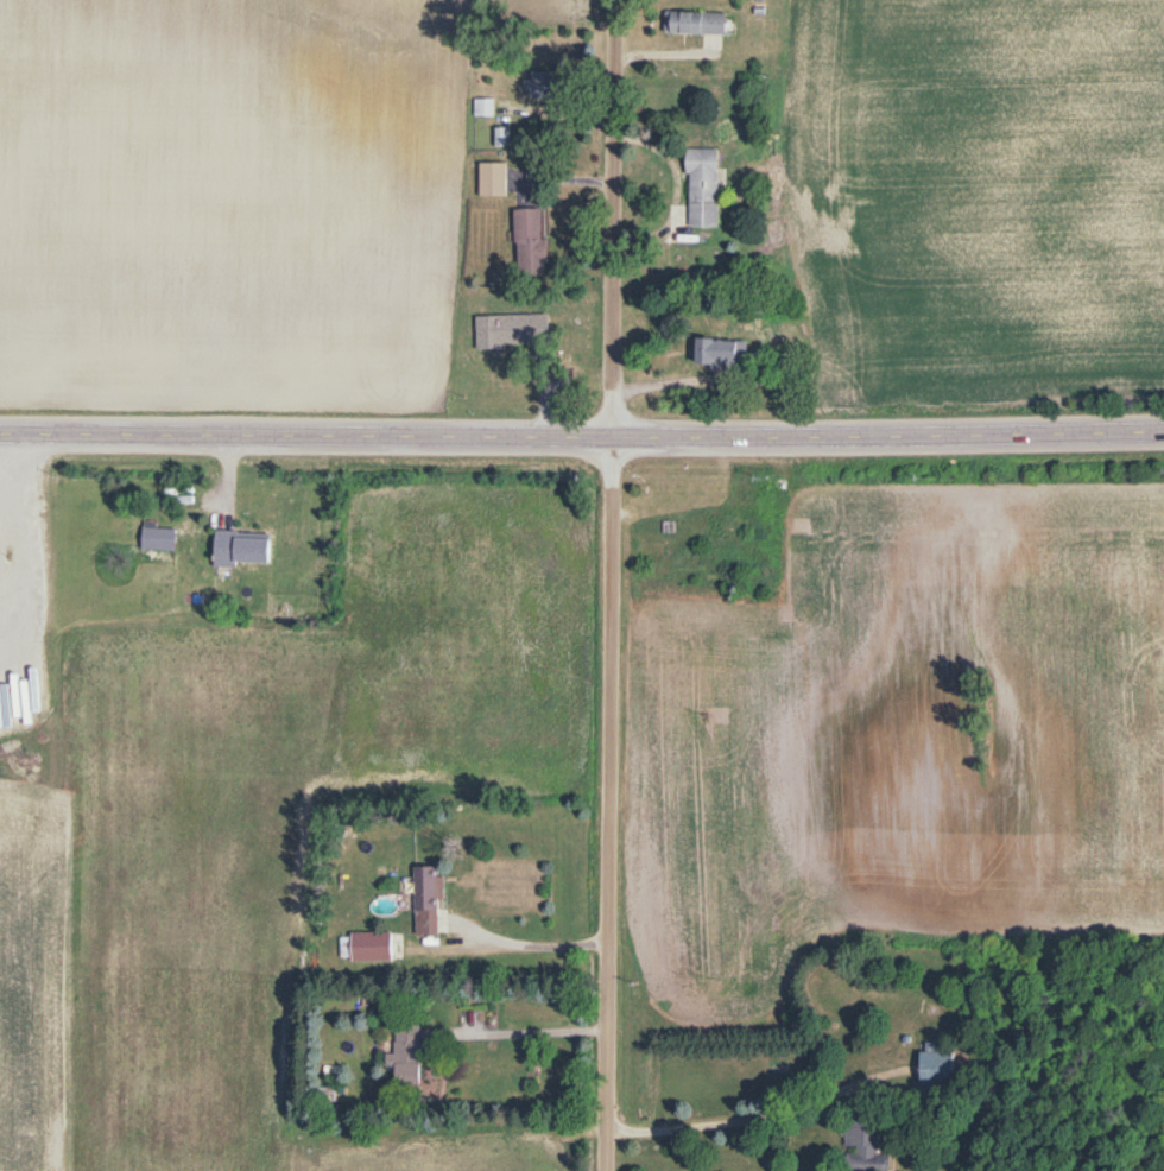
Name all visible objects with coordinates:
building: (694, 25)
building: (540, 86)
building: (483, 108)
building: (501, 138)
building: (492, 179)
building: (701, 189)
road: (612, 220)
building: (529, 238)
building: (510, 331)
building: (719, 354)
road: (582, 439)
building: (152, 542)
building: (235, 550)
road: (603, 805)
building: (423, 900)
road: (529, 945)
building: (367, 947)
road: (533, 1033)
building: (403, 1056)
building: (932, 1066)
road: (729, 1125)
building: (862, 1146)

